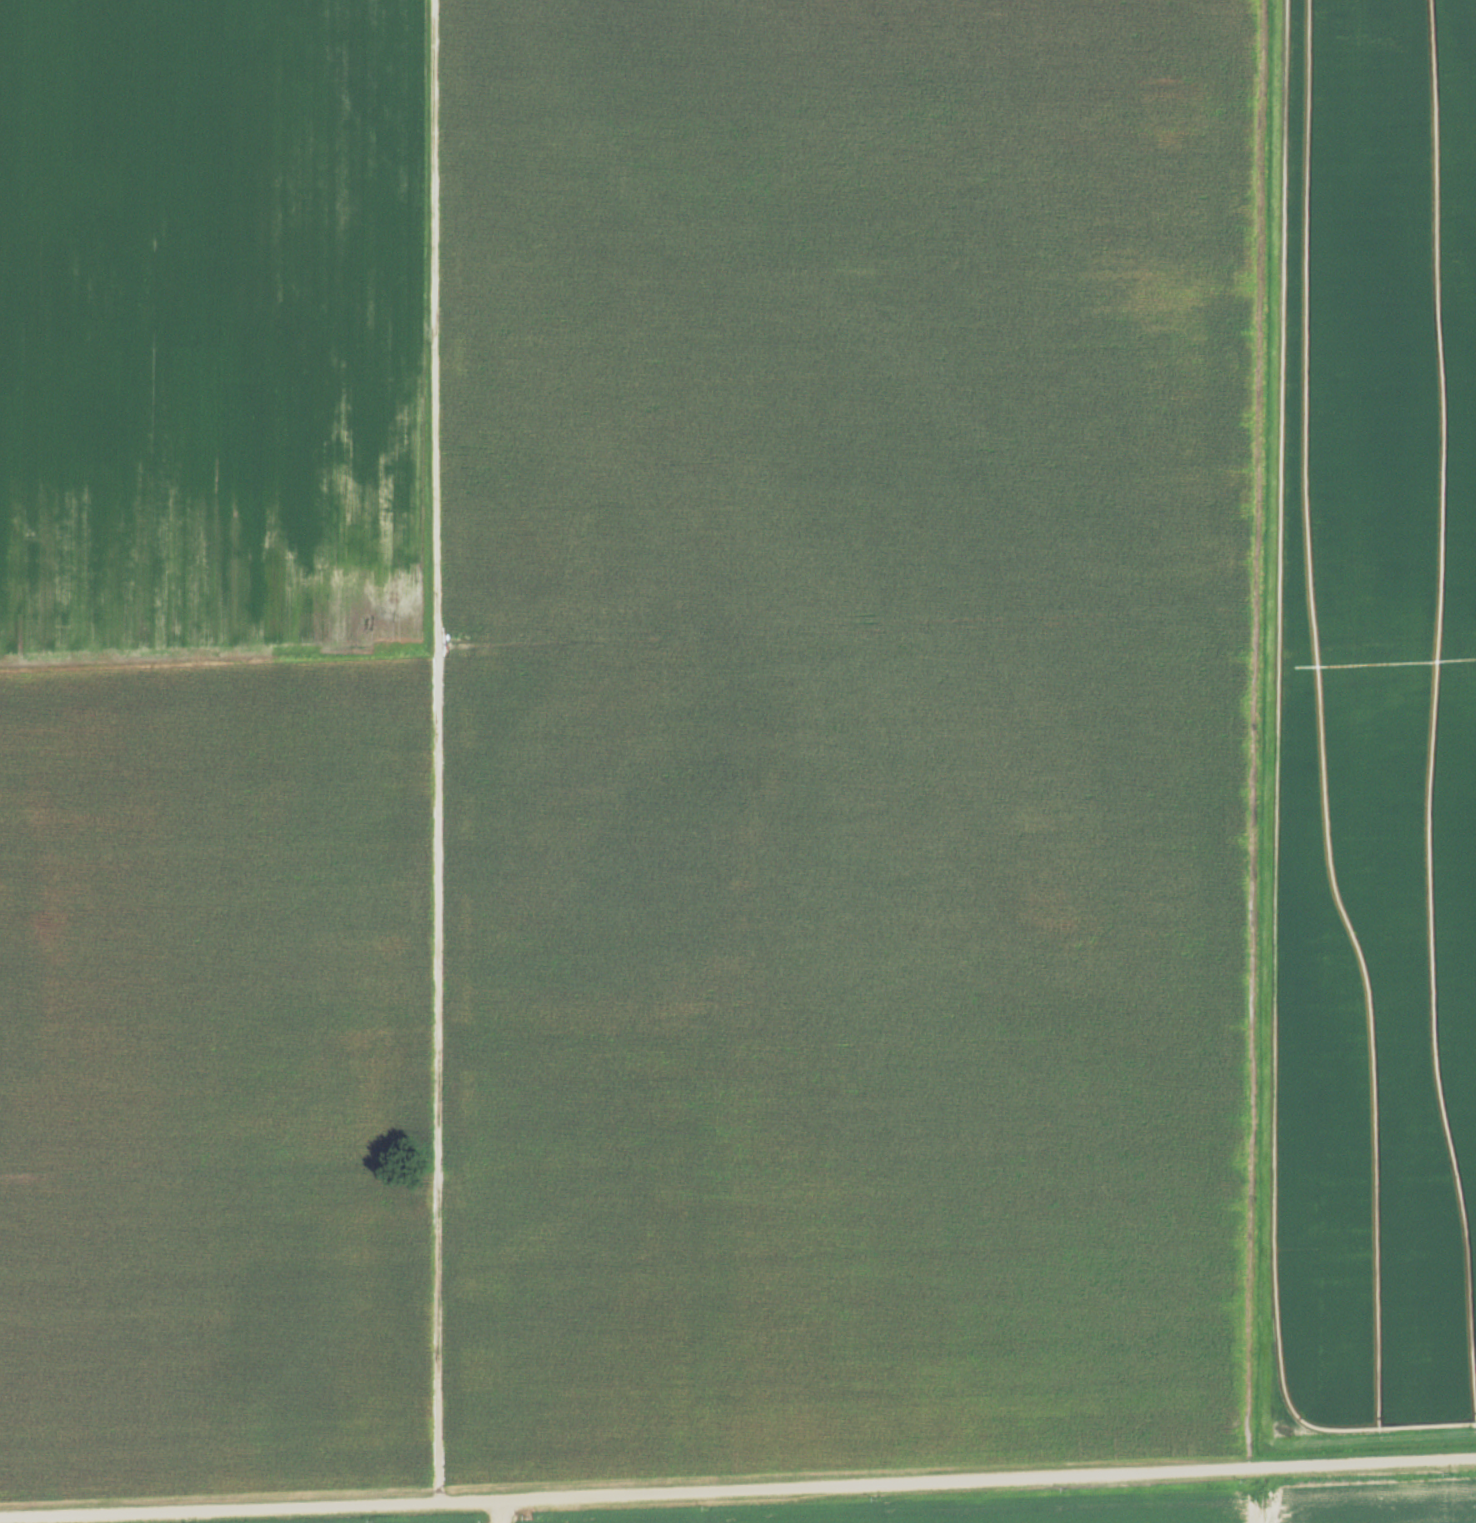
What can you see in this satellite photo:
road: (738, 1488)
road: (508, 1510)

